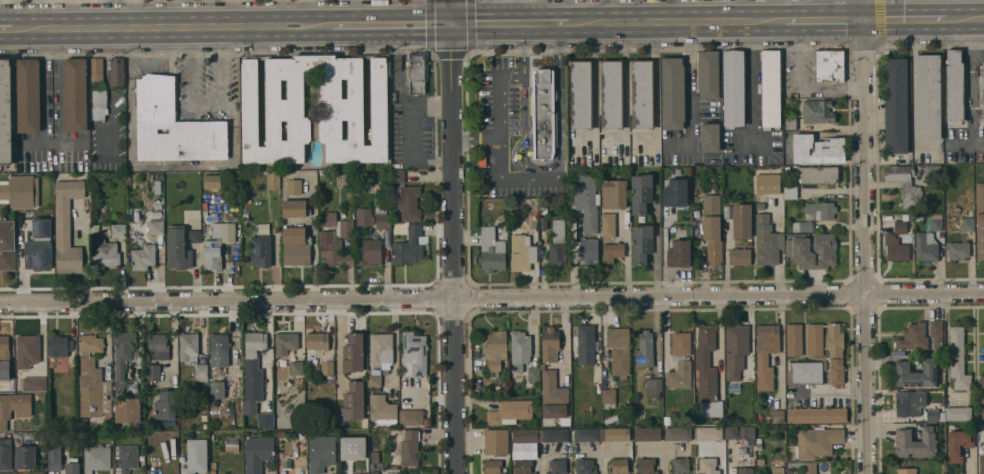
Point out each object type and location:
road: (737, 10)
road: (670, 11)
road: (129, 12)
road: (72, 13)
road: (964, 20)
road: (676, 21)
road: (824, 21)
traffic signals: (863, 21)
road: (904, 21)
traffic signals: (452, 22)
road: (487, 22)
road: (539, 22)
road: (562, 22)
road: (249, 23)
road: (5, 26)
road: (29, 26)
building: (829, 65)
building: (97, 70)
building: (117, 72)
building: (417, 72)
building: (708, 74)
road: (511, 76)
road: (971, 83)
road: (752, 84)
road: (799, 86)
building: (770, 88)
building: (954, 88)
road: (401, 89)
building: (733, 89)
building: (982, 90)
road: (657, 91)
building: (612, 93)
building: (673, 93)
building: (581, 94)
building: (643, 94)
building: (75, 95)
building: (28, 96)
road: (690, 97)
building: (928, 97)
building: (98, 103)
road: (206, 104)
building: (896, 105)
building: (284, 109)
road: (499, 109)
building: (5, 112)
building: (817, 112)
building: (543, 113)
building: (790, 123)
building: (173, 126)
road: (409, 134)
building: (709, 137)
road: (477, 142)
road: (52, 143)
building: (818, 150)
building: (482, 159)
road: (546, 170)
building: (932, 172)
building: (818, 174)
building: (398, 176)
building: (100, 179)
building: (341, 179)
road: (520, 179)
building: (273, 180)
building: (212, 182)
building: (767, 183)
building: (905, 184)
building: (294, 186)
building: (157, 187)
building: (19, 191)
building: (675, 192)
building: (614, 193)
building: (641, 193)
building: (791, 193)
building: (980, 196)
building: (409, 202)
building: (585, 202)
building: (157, 204)
building: (205, 208)
building: (294, 208)
building: (245, 215)
building: (815, 215)
building: (365, 217)
building: (134, 219)
building: (235, 219)
building: (382, 219)
building: (543, 221)
building: (742, 221)
building: (935, 222)
building: (968, 224)
building: (607, 225)
building: (66, 226)
building: (156, 227)
building: (901, 227)
building: (263, 228)
building: (712, 228)
building: (94, 229)
building: (118, 230)
building: (245, 234)
building: (194, 235)
road: (456, 236)
building: (980, 236)
building: (336, 237)
road: (864, 237)
road: (314, 241)
building: (767, 241)
building: (557, 242)
building: (642, 243)
building: (749, 243)
building: (7, 244)
building: (217, 244)
building: (39, 246)
building: (296, 246)
building: (409, 247)
building: (897, 247)
building: (926, 247)
building: (178, 248)
building: (491, 250)
building: (959, 250)
building: (260, 251)
building: (368, 251)
building: (612, 251)
building: (797, 251)
building: (521, 252)
building: (589, 252)
building: (678, 253)
building: (105, 254)
road: (655, 254)
building: (143, 257)
building: (739, 257)
road: (491, 297)
building: (936, 333)
road: (139, 337)
building: (913, 337)
building: (794, 339)
building: (814, 340)
building: (834, 340)
building: (317, 341)
building: (285, 342)
road: (173, 343)
building: (550, 344)
building: (586, 344)
road: (338, 345)
building: (58, 346)
building: (158, 346)
building: (188, 346)
building: (4, 348)
building: (219, 349)
building: (736, 349)
building: (27, 350)
building: (381, 350)
building: (619, 350)
building: (645, 350)
building: (495, 352)
building: (353, 353)
building: (519, 353)
building: (414, 354)
building: (122, 355)
building: (766, 355)
building: (958, 358)
building: (680, 361)
building: (59, 367)
building: (296, 367)
building: (327, 368)
building: (5, 370)
building: (253, 371)
building: (153, 372)
building: (201, 372)
building: (806, 372)
building: (534, 373)
building: (707, 373)
building: (917, 373)
building: (836, 374)
building: (92, 379)
building: (375, 381)
building: (982, 382)
building: (34, 384)
building: (217, 384)
building: (653, 387)
building: (405, 392)
building: (624, 394)
building: (553, 396)
building: (609, 398)
building: (354, 401)
building: (909, 402)
building: (165, 404)
building: (13, 407)
building: (381, 408)
building: (127, 410)
building: (510, 412)
building: (958, 413)
building: (982, 414)
building: (819, 415)
building: (932, 415)
building: (942, 415)
building: (181, 416)
building: (778, 416)
building: (204, 417)
building: (411, 417)
building: (265, 420)
building: (667, 420)
building: (545, 422)
building: (732, 432)
building: (281, 433)
building: (678, 433)
building: (709, 433)
building: (302, 434)
building: (588, 434)
building: (616, 434)
building: (648, 434)
building: (748, 434)
building: (527, 435)
building: (555, 435)
building: (35, 436)
building: (496, 441)
building: (817, 442)
building: (917, 443)
building: (958, 443)
building: (232, 444)
building: (759, 447)
building: (353, 448)
building: (410, 448)
road: (589, 451)
road: (600, 451)
road: (675, 452)
building: (258, 453)
building: (322, 453)
road: (662, 453)
building: (5, 454)
building: (54, 455)
building: (196, 456)
building: (524, 456)
road: (972, 456)
building: (26, 457)
building: (128, 457)
road: (542, 457)
building: (96, 458)
building: (760, 462)
building: (982, 464)
building: (213, 465)
building: (680, 465)
building: (708, 465)
building: (585, 466)
building: (619, 466)
building: (646, 466)
building: (803, 466)
building: (492, 467)
building: (557, 467)
building: (72, 468)
building: (358, 468)
building: (778, 470)
building: (745, 471)
building: (906, 471)
building: (212, 472)
building: (342, 472)
building: (392, 472)
building: (357, 473)

